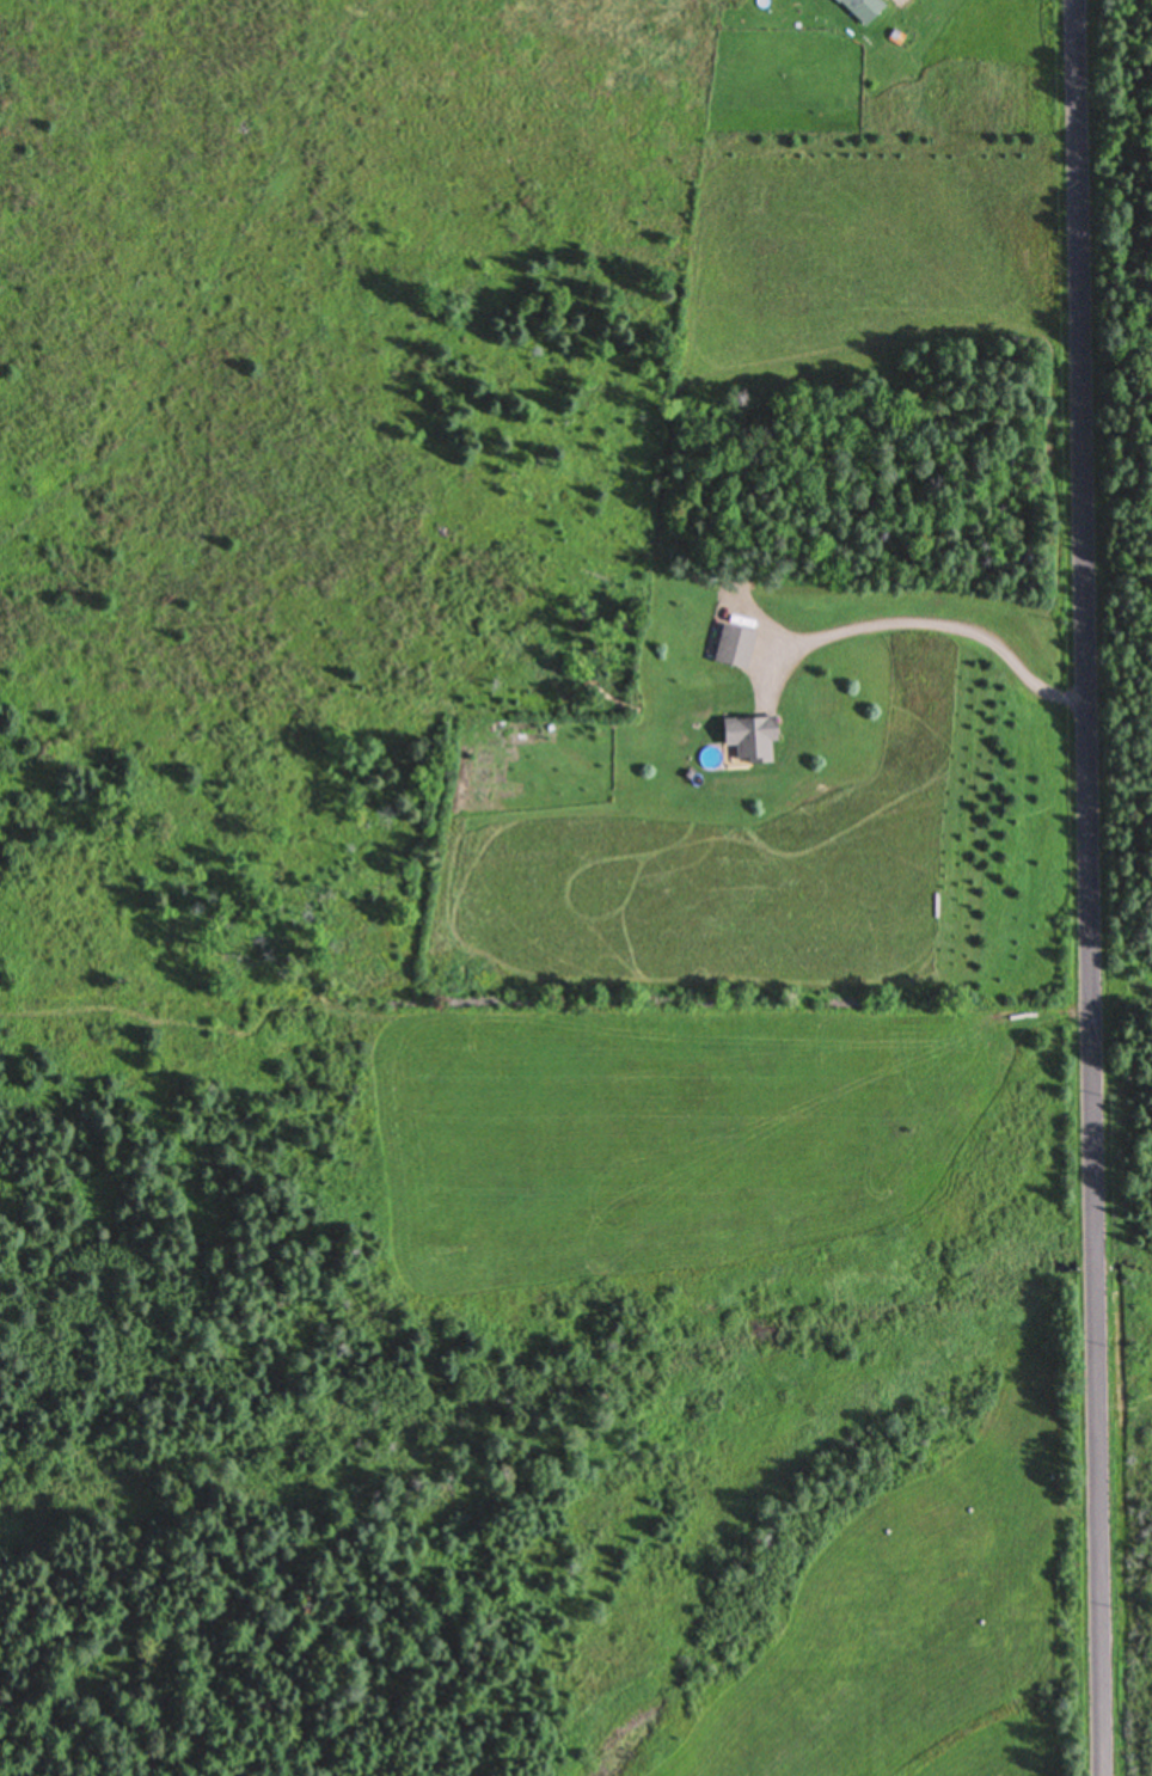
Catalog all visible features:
building: (863, 10)
building: (735, 645)
building: (749, 741)
road: (1086, 888)

